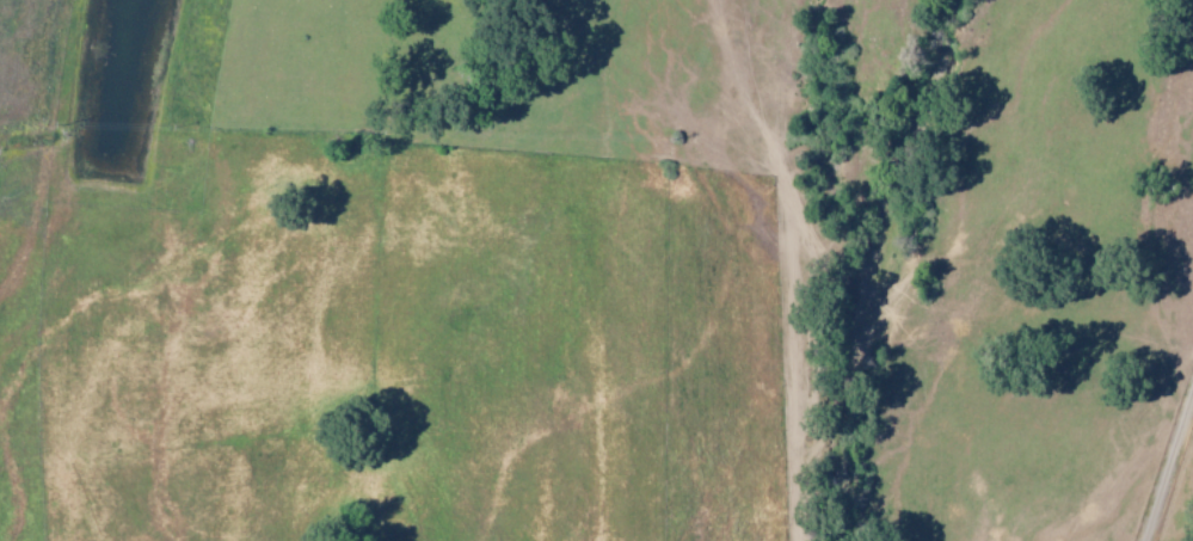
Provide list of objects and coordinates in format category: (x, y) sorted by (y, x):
road: (1172, 469)

